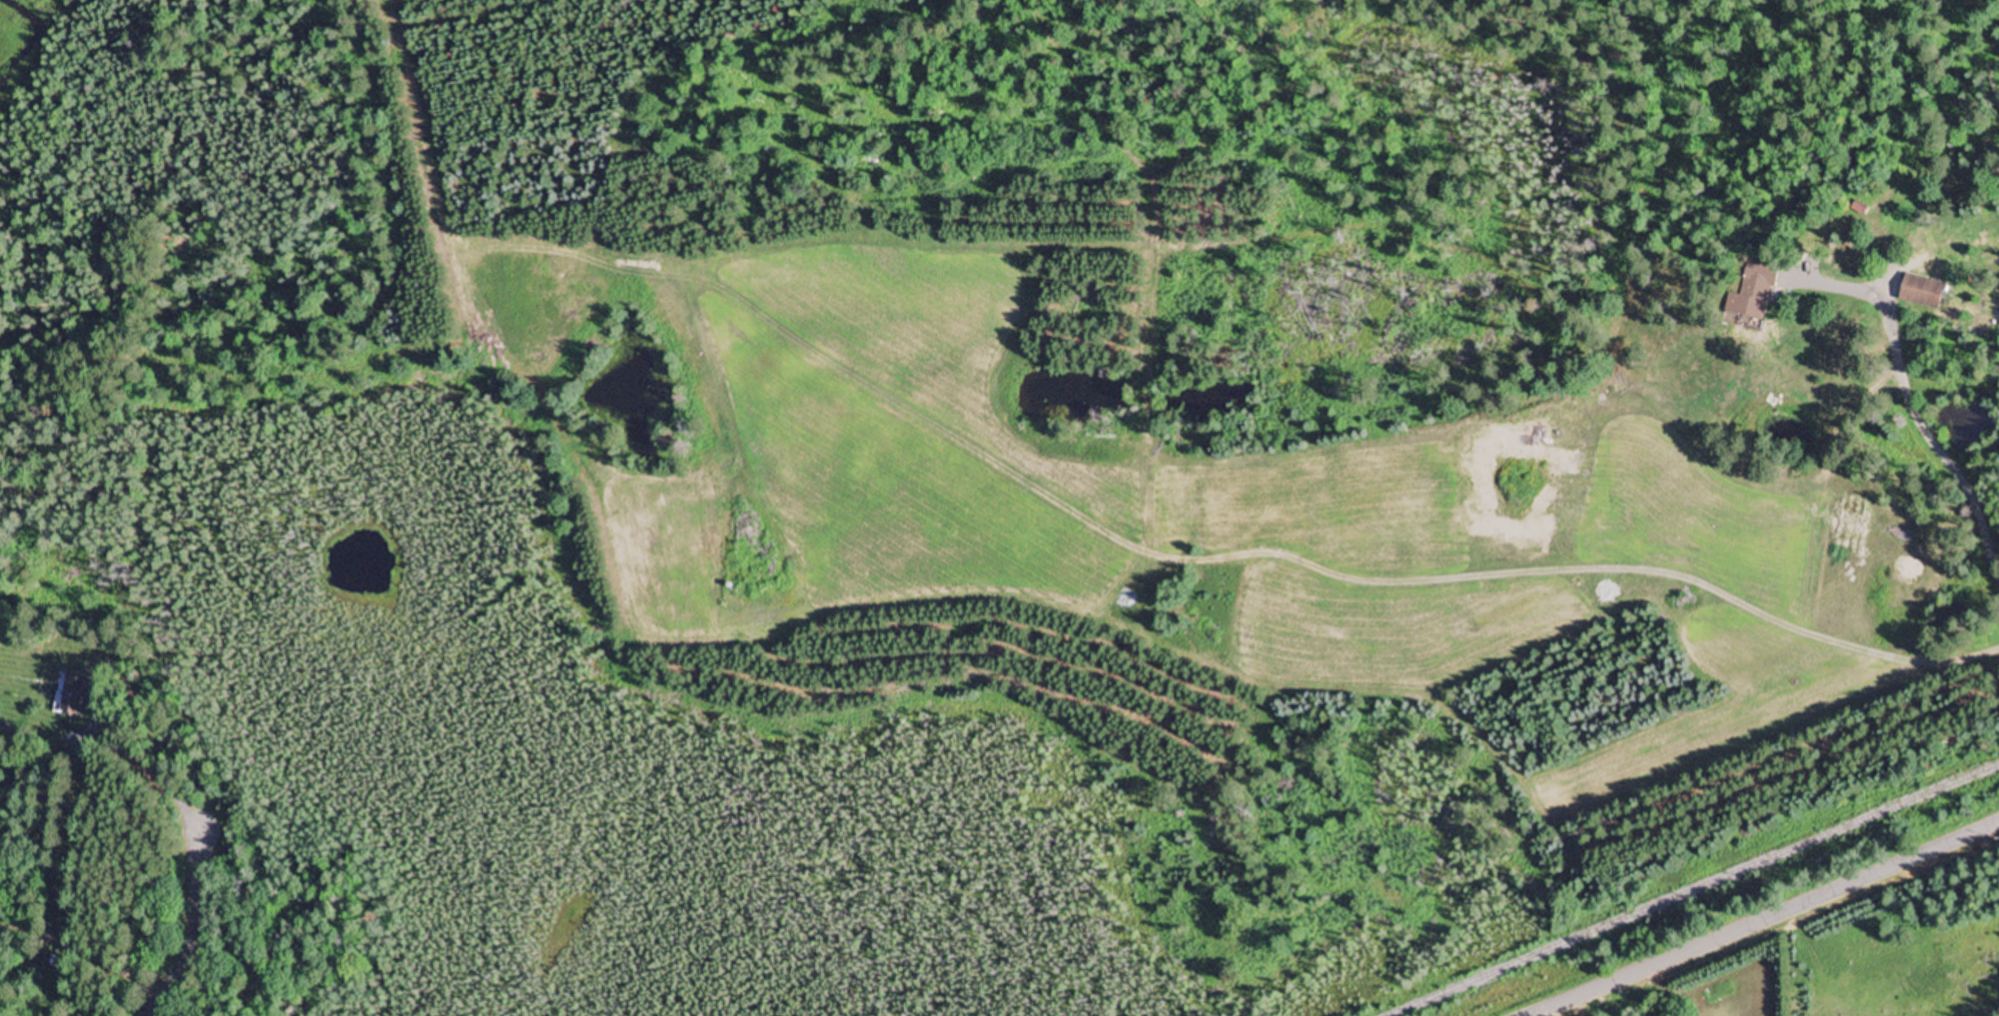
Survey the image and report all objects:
building: (1919, 292)
building: (1751, 293)
road: (1908, 407)
road: (9, 550)
building: (69, 695)
road: (77, 863)
railway: (1694, 889)
road: (1765, 919)
road: (10, 1009)

